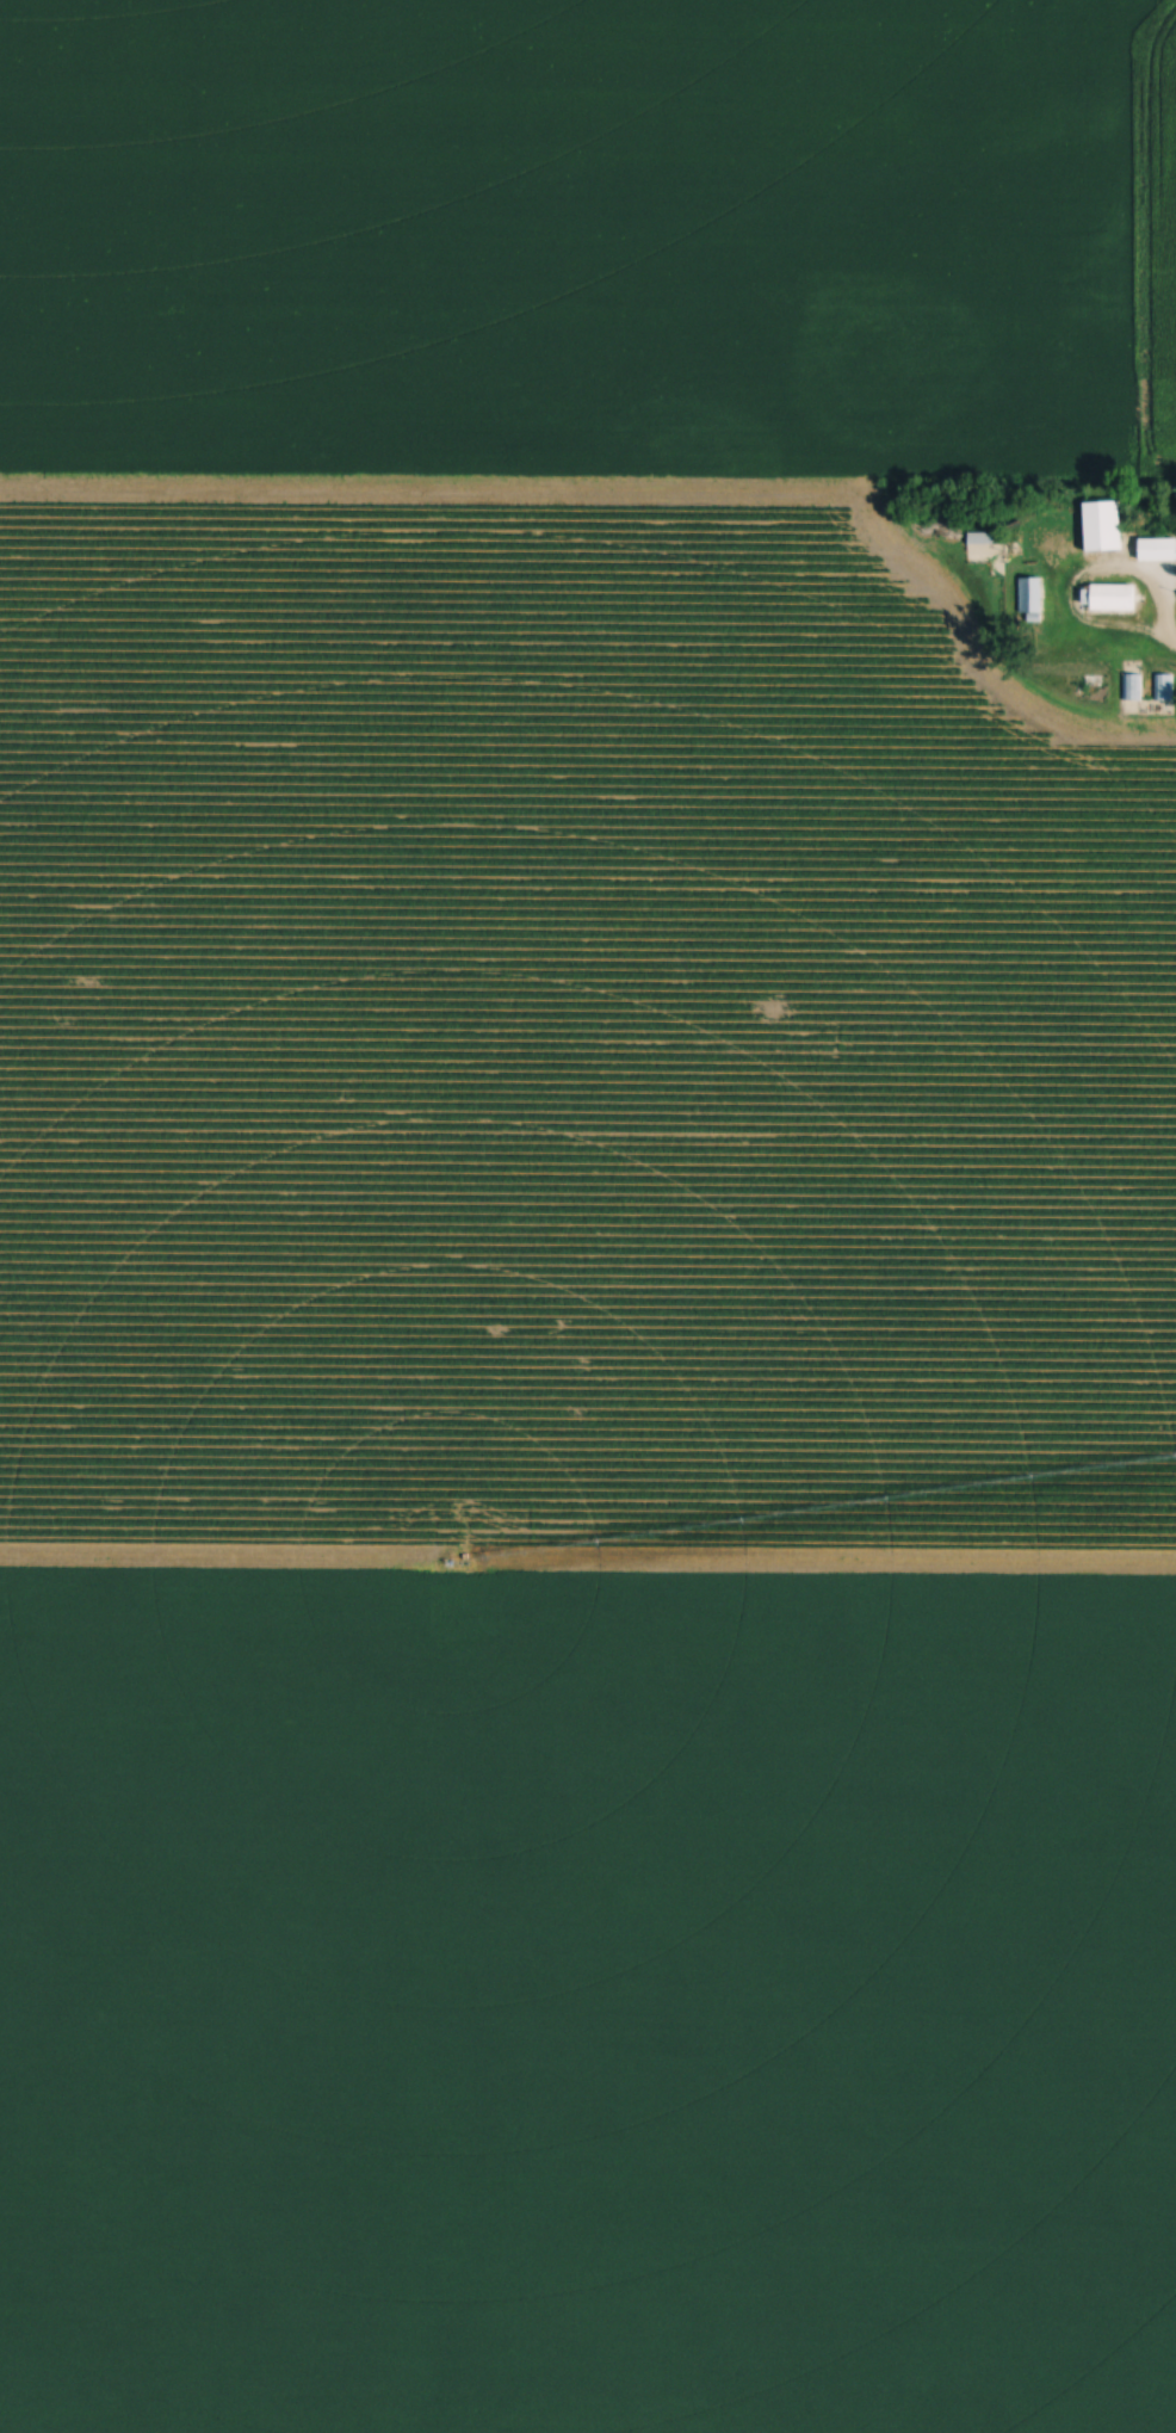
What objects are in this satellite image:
building: (1104, 526)
building: (982, 538)
building: (1158, 550)
road: (1094, 572)
building: (1032, 594)
building: (1115, 597)
road: (1163, 640)
building: (1133, 687)
building: (1164, 687)
building: (1030, 755)

